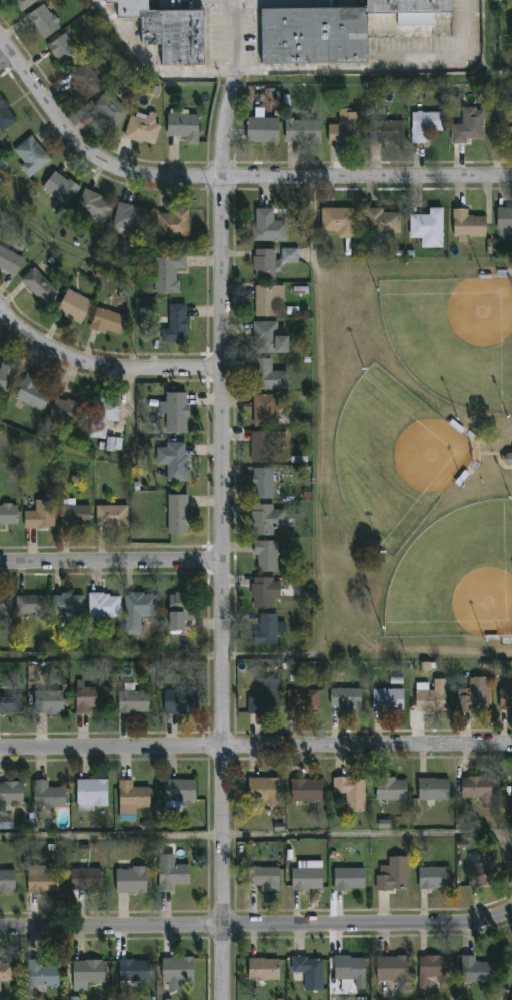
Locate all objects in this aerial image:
building: (23, 3)
building: (409, 18)
building: (42, 20)
parking lot: (239, 24)
building: (170, 30)
building: (314, 35)
building: (62, 49)
road: (6, 60)
road: (149, 66)
road: (381, 68)
building: (85, 81)
road: (228, 90)
building: (107, 110)
building: (5, 117)
building: (424, 125)
building: (468, 126)
building: (183, 128)
building: (344, 128)
building: (141, 129)
building: (261, 130)
building: (301, 130)
building: (384, 131)
building: (29, 156)
road: (223, 179)
building: (58, 187)
building: (93, 206)
building: (129, 219)
building: (504, 219)
building: (337, 221)
building: (379, 221)
building: (172, 223)
building: (466, 225)
building: (267, 226)
building: (427, 228)
building: (288, 254)
building: (9, 261)
building: (263, 264)
building: (166, 271)
building: (38, 285)
building: (267, 300)
building: (73, 306)
building: (106, 321)
building: (175, 324)
building: (266, 338)
park: (454, 339)
road: (101, 369)
building: (266, 375)
building: (6, 376)
building: (32, 392)
building: (264, 410)
building: (66, 411)
building: (175, 411)
building: (101, 415)
building: (262, 446)
park: (394, 459)
park: (417, 460)
building: (507, 460)
building: (175, 462)
building: (261, 483)
building: (177, 514)
building: (8, 515)
building: (39, 515)
building: (74, 516)
building: (110, 516)
building: (266, 519)
building: (265, 555)
road: (112, 563)
road: (320, 573)
park: (456, 578)
road: (224, 589)
building: (261, 592)
building: (67, 603)
building: (30, 604)
building: (103, 605)
building: (4, 606)
building: (137, 609)
building: (179, 609)
building: (265, 629)
building: (32, 672)
building: (472, 696)
building: (265, 698)
building: (344, 699)
building: (430, 699)
building: (505, 699)
building: (86, 700)
building: (302, 701)
building: (386, 701)
building: (132, 702)
building: (180, 702)
building: (48, 703)
building: (10, 705)
road: (255, 749)
building: (390, 790)
building: (432, 790)
building: (474, 790)
building: (305, 791)
building: (262, 792)
building: (178, 793)
building: (350, 793)
building: (11, 794)
building: (91, 794)
building: (47, 796)
building: (131, 796)
building: (384, 824)
road: (387, 834)
road: (112, 836)
building: (480, 874)
building: (391, 875)
building: (172, 877)
building: (262, 879)
building: (306, 879)
building: (433, 879)
building: (347, 880)
building: (86, 881)
building: (130, 881)
building: (7, 882)
building: (42, 883)
road: (257, 926)
building: (433, 968)
building: (391, 970)
building: (176, 971)
building: (262, 971)
building: (474, 971)
building: (7, 972)
building: (132, 972)
building: (87, 973)
building: (349, 973)
building: (307, 974)
building: (38, 975)

